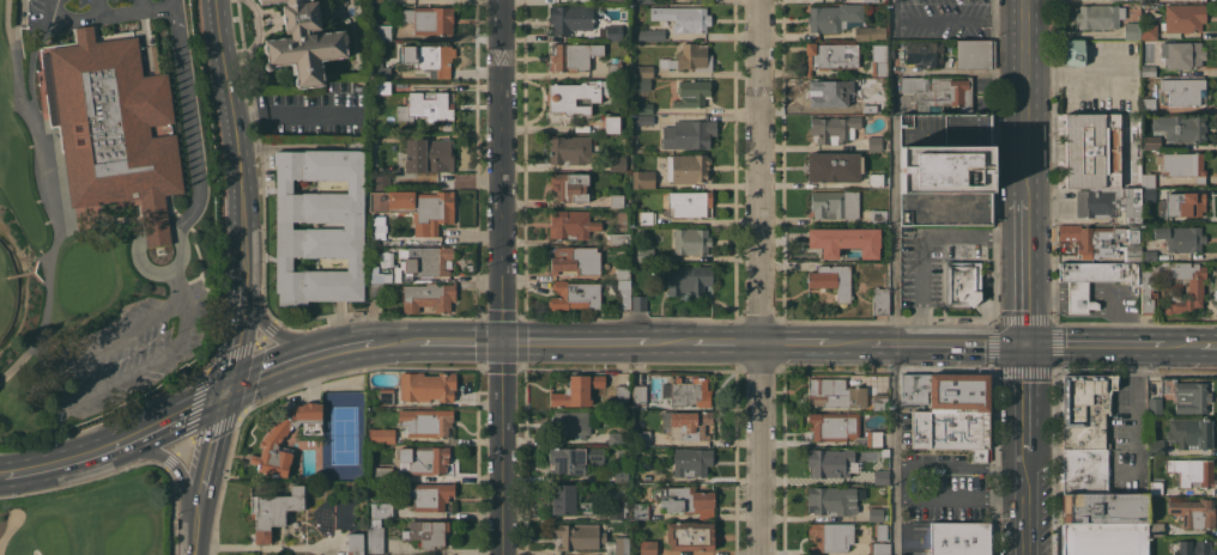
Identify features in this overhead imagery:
building: (870, 0)
building: (1171, 0)
building: (1183, 0)
building: (375, 1)
building: (614, 1)
building: (641, 1)
building: (695, 1)
building: (1148, 1)
road: (140, 5)
road: (96, 7)
road: (896, 8)
road: (133, 10)
road: (1024, 10)
road: (50, 11)
parking lot: (84, 12)
building: (1100, 16)
building: (832, 17)
building: (683, 18)
road: (959, 18)
building: (1183, 18)
road: (73, 19)
building: (429, 19)
building: (569, 19)
building: (373, 26)
building: (1131, 31)
building: (1149, 31)
building: (383, 32)
building: (613, 32)
building: (870, 32)
building: (650, 33)
building: (303, 43)
building: (1073, 53)
building: (924, 54)
building: (974, 54)
building: (1183, 54)
building: (574, 55)
building: (830, 55)
building: (689, 57)
building: (429, 59)
building: (878, 60)
building: (613, 67)
building: (380, 68)
building: (1148, 69)
building: (642, 71)
building: (373, 73)
building: (640, 84)
building: (381, 86)
building: (1183, 91)
building: (829, 92)
building: (691, 93)
building: (939, 93)
building: (575, 96)
building: (425, 105)
building: (872, 105)
road: (1023, 105)
building: (1148, 105)
building: (642, 108)
road: (292, 116)
road: (187, 118)
road: (232, 120)
building: (642, 120)
building: (611, 124)
building: (1180, 127)
building: (115, 128)
building: (834, 128)
building: (158, 129)
building: (688, 133)
building: (873, 142)
building: (1151, 142)
building: (569, 150)
building: (1091, 150)
building: (428, 155)
building: (610, 163)
building: (1182, 165)
building: (832, 166)
building: (686, 167)
building: (945, 169)
building: (642, 178)
building: (874, 179)
building: (1148, 179)
building: (380, 181)
building: (569, 187)
building: (1149, 193)
road: (47, 195)
building: (616, 200)
building: (690, 203)
building: (835, 203)
building: (1109, 203)
building: (1186, 203)
building: (416, 207)
park: (99, 208)
building: (644, 216)
building: (878, 216)
building: (570, 224)
building: (352, 225)
road: (441, 237)
building: (619, 238)
building: (832, 238)
building: (1180, 238)
road: (921, 239)
building: (690, 240)
building: (1102, 240)
building: (644, 254)
building: (877, 254)
building: (1149, 255)
parking lot: (939, 257)
building: (575, 260)
building: (386, 261)
building: (425, 261)
road: (1023, 267)
road: (144, 268)
building: (623, 270)
building: (382, 273)
road: (499, 276)
road: (757, 276)
building: (688, 279)
building: (1092, 279)
building: (831, 280)
building: (962, 283)
building: (1171, 286)
building: (374, 289)
building: (575, 295)
building: (428, 297)
building: (623, 298)
building: (879, 301)
building: (638, 303)
road: (238, 317)
road: (285, 340)
road: (450, 341)
traffic signals: (499, 342)
road: (587, 342)
road: (716, 342)
road: (804, 342)
road: (937, 343)
traffic signals: (1024, 343)
road: (1103, 344)
road: (1200, 346)
parking lot: (122, 350)
road: (308, 356)
building: (425, 386)
building: (576, 390)
building: (946, 391)
building: (690, 392)
building: (834, 392)
traffic signals: (223, 394)
building: (620, 394)
building: (638, 395)
building: (1186, 395)
building: (386, 396)
road: (1024, 398)
building: (879, 401)
road: (72, 404)
building: (1155, 405)
building: (1084, 410)
road: (172, 419)
road: (1143, 419)
building: (573, 423)
building: (689, 423)
building: (431, 425)
building: (832, 426)
parking lot: (908, 428)
building: (951, 431)
building: (1189, 432)
park: (344, 435)
building: (381, 435)
parking lot: (1128, 435)
building: (617, 438)
building: (642, 438)
building: (873, 439)
building: (271, 441)
building: (1155, 447)
road: (895, 449)
road: (208, 451)
building: (883, 452)
building: (424, 458)
building: (573, 459)
road: (171, 462)
building: (691, 462)
building: (829, 462)
road: (61, 463)
road: (959, 464)
building: (1084, 470)
building: (1191, 472)
building: (380, 474)
building: (619, 475)
building: (880, 477)
road: (906, 481)
parking lot: (947, 484)
building: (1155, 487)
building: (429, 495)
road: (959, 499)
building: (568, 500)
building: (685, 500)
building: (831, 500)
road: (1024, 504)
building: (1103, 507)
building: (617, 508)
building: (381, 510)
building: (273, 511)
building: (640, 511)
building: (1193, 512)
building: (876, 514)
park: (89, 518)
building: (327, 520)
building: (374, 522)
road: (8, 527)
building: (1156, 529)
building: (879, 531)
road: (194, 532)
building: (425, 532)
building: (577, 536)
building: (689, 536)
building: (830, 536)
parking lot: (916, 538)
building: (959, 538)
building: (1103, 538)
building: (374, 539)
road: (907, 539)
building: (355, 543)
building: (622, 545)
building: (647, 548)
building: (878, 548)
building: (1191, 548)
road: (442, 550)

